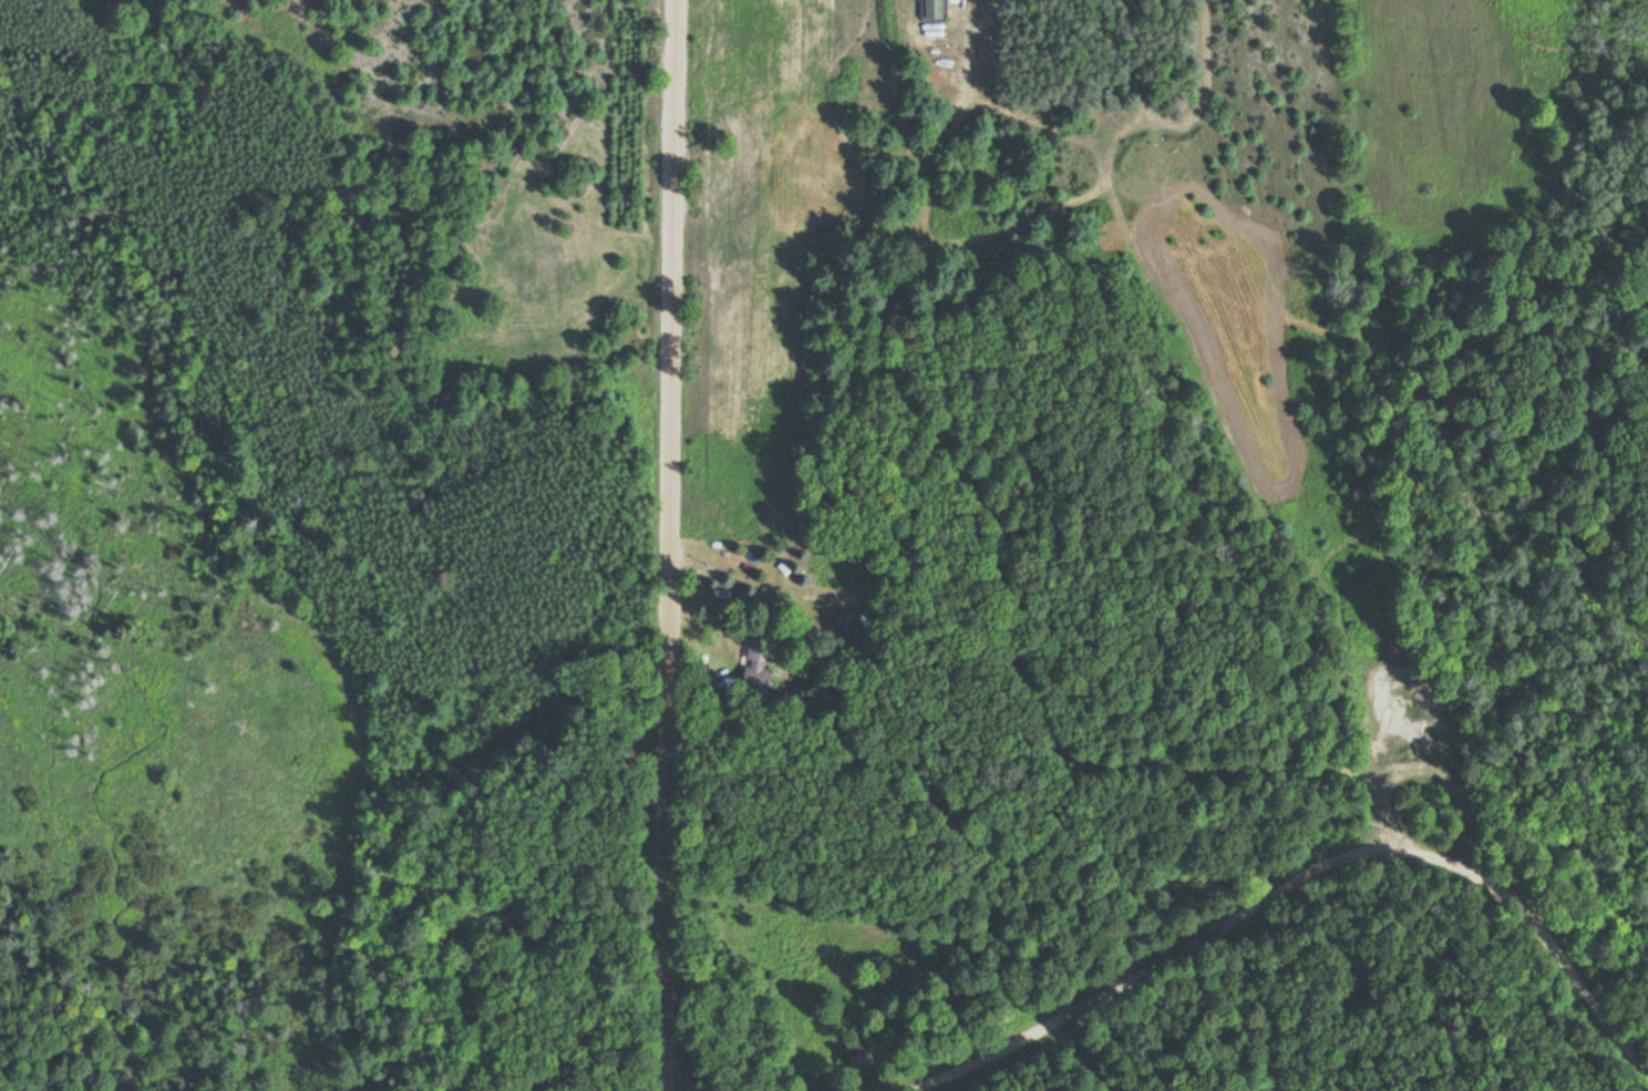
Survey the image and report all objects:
building: (931, 9)
road: (671, 545)
building: (755, 656)
road: (1291, 898)
building: (856, 1052)

